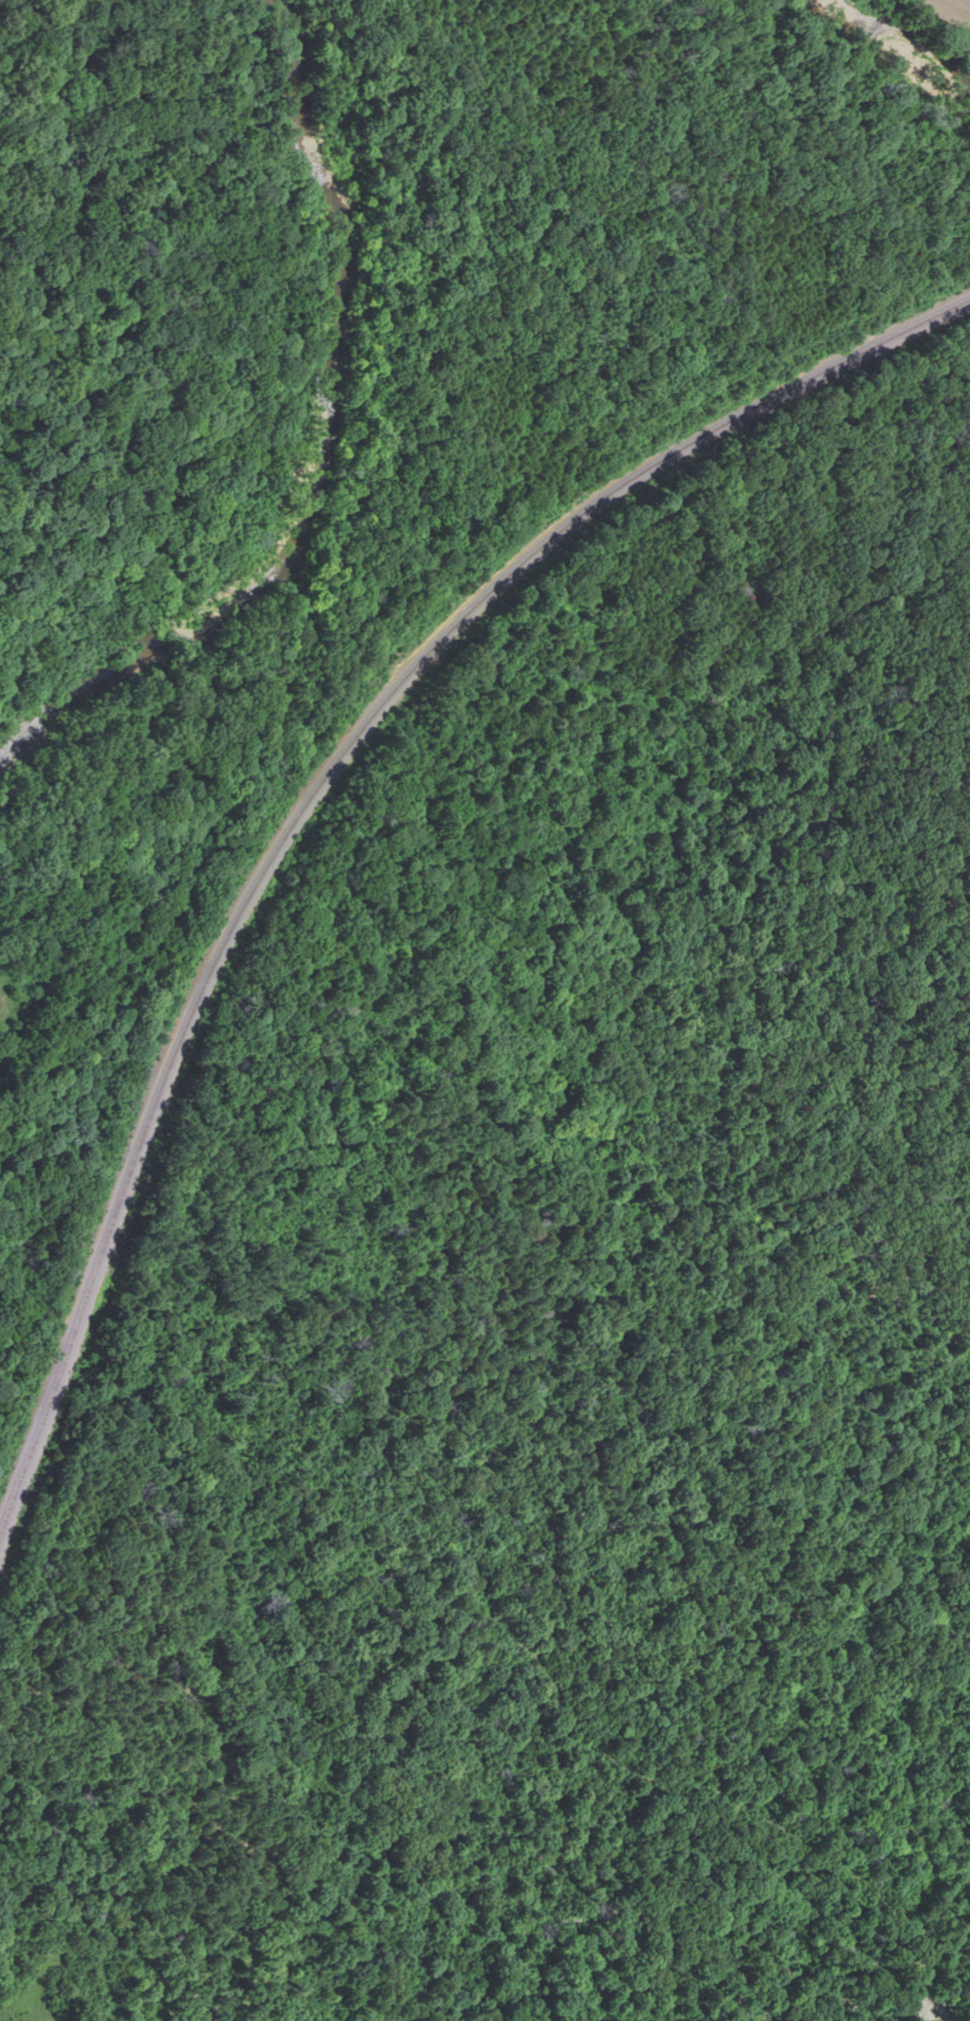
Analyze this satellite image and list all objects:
railway: (322, 783)
road: (924, 1720)

